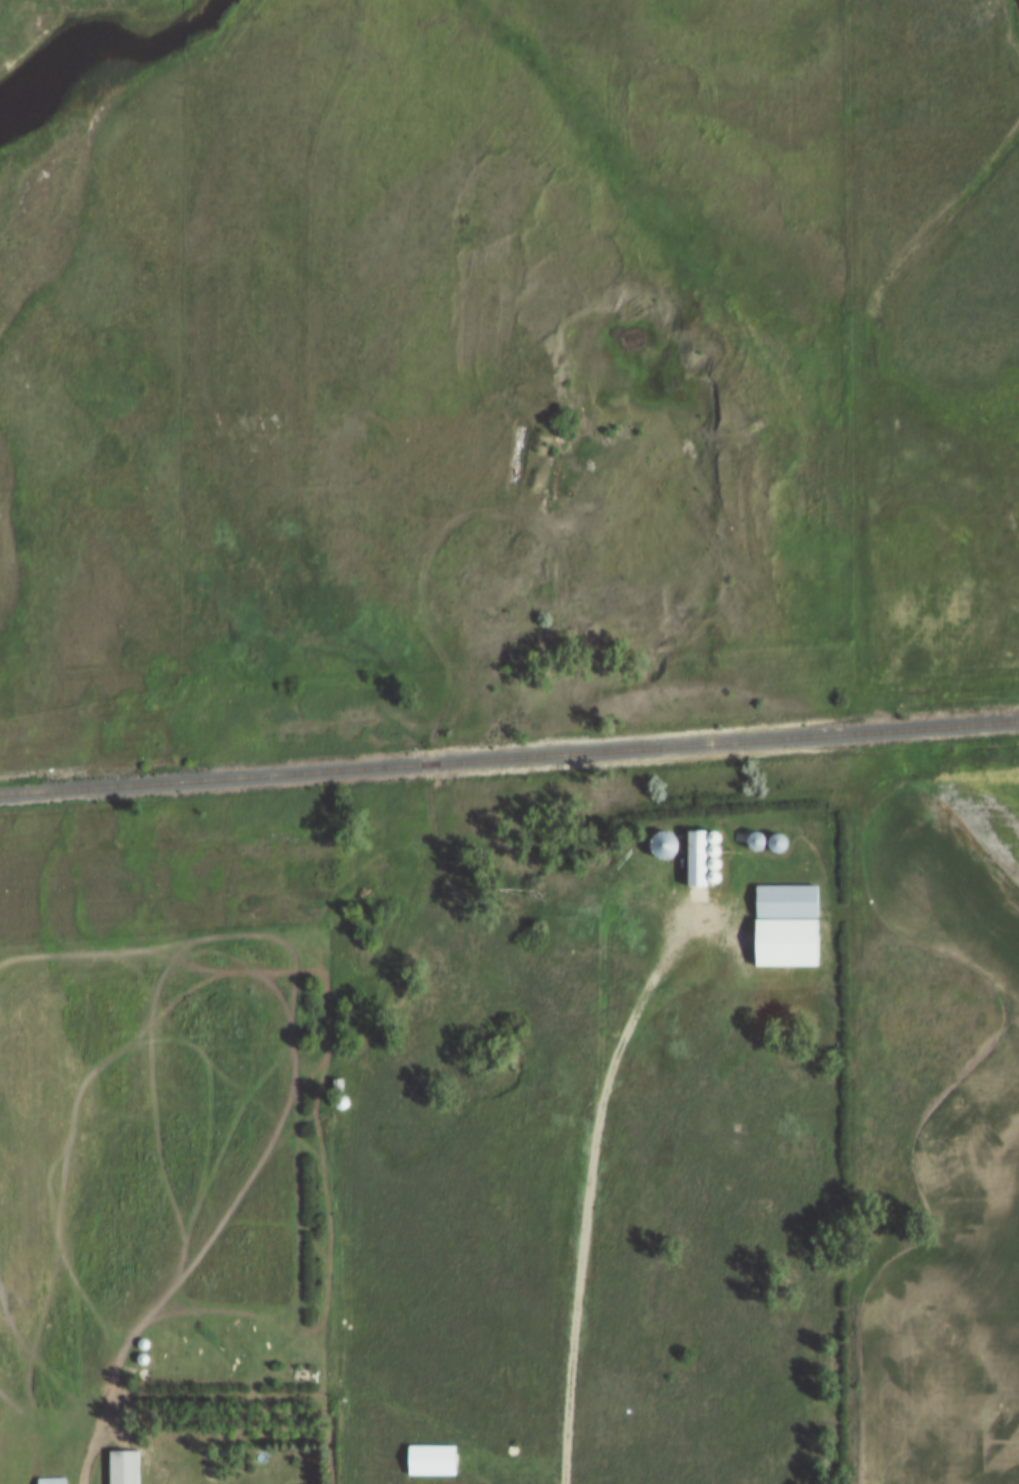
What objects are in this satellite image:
railway: (509, 754)
building: (717, 831)
silo: (717, 831)
building: (743, 831)
silo: (743, 831)
building: (760, 836)
silo: (760, 836)
building: (780, 837)
silo: (780, 837)
building: (667, 840)
silo: (667, 840)
building: (716, 844)
silo: (716, 844)
building: (700, 853)
building: (716, 857)
silo: (716, 857)
building: (716, 871)
silo: (716, 871)
building: (790, 895)
building: (790, 937)
building: (343, 1080)
building: (346, 1097)
silo: (346, 1097)
building: (345, 1112)
silo: (345, 1112)
building: (345, 1126)
silo: (345, 1126)
road: (591, 1170)
building: (149, 1339)
silo: (149, 1339)
building: (149, 1354)
silo: (149, 1354)
building: (149, 1370)
silo: (149, 1370)
building: (165, 1450)
building: (436, 1455)
building: (130, 1465)
building: (57, 1479)

